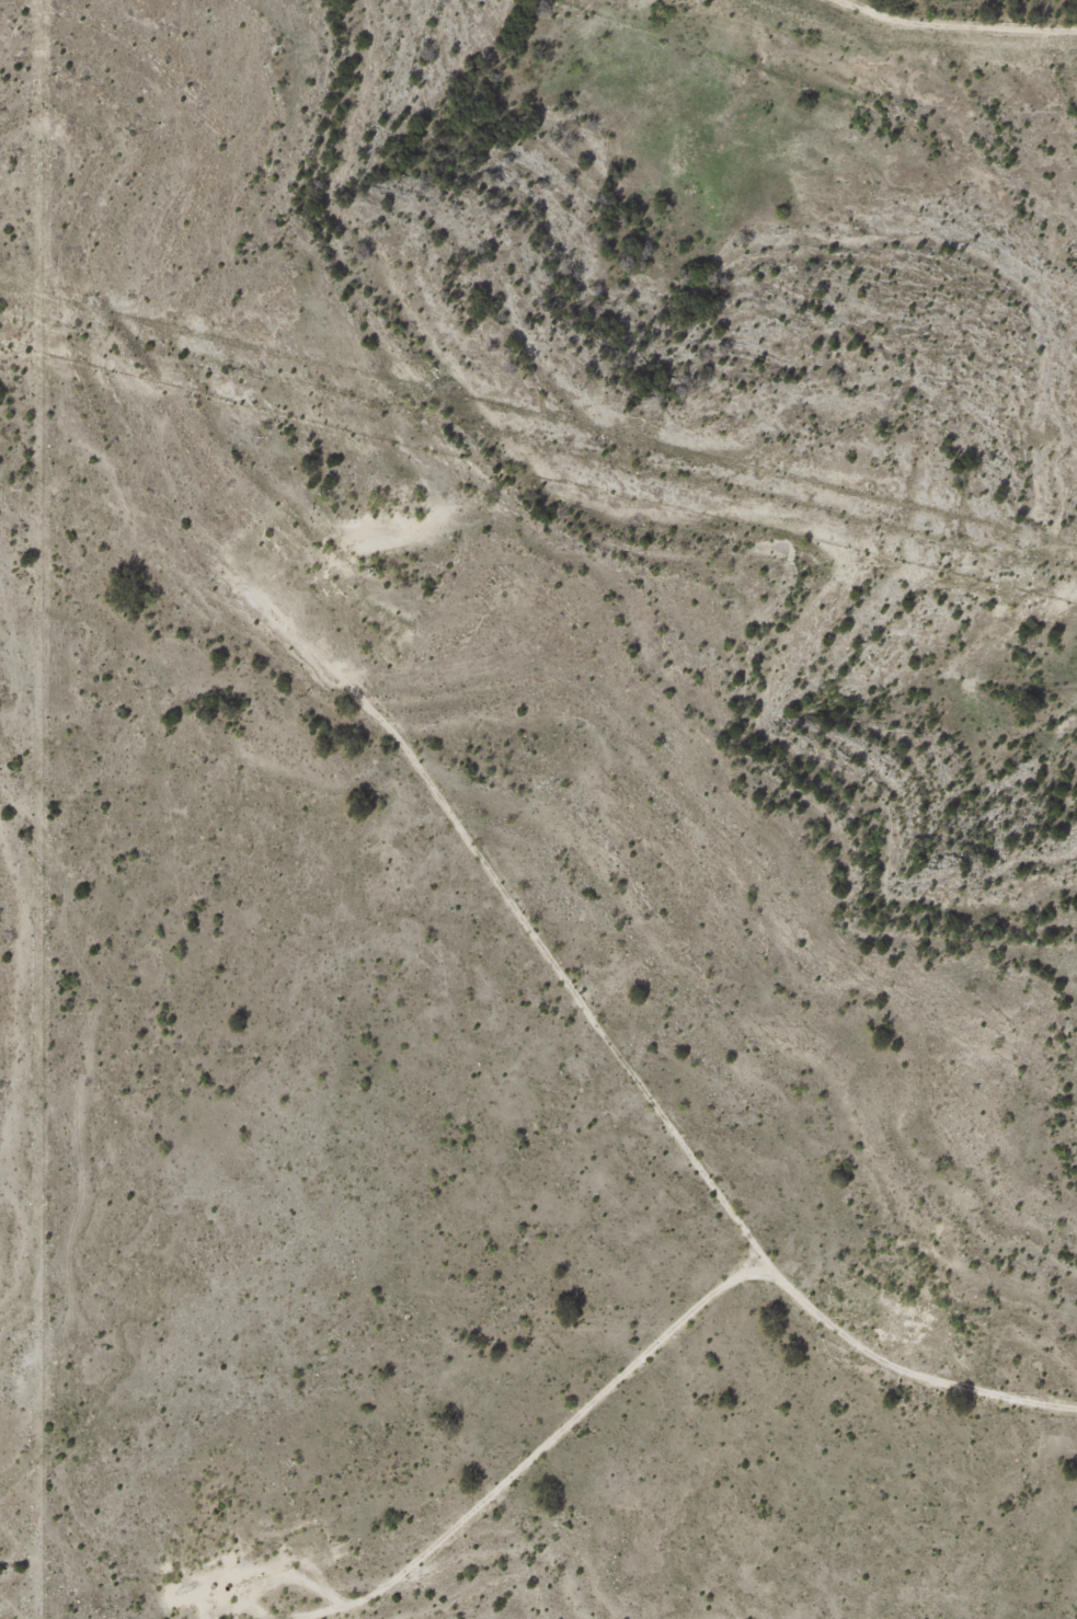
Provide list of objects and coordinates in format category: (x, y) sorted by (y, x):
road: (1073, 1402)

